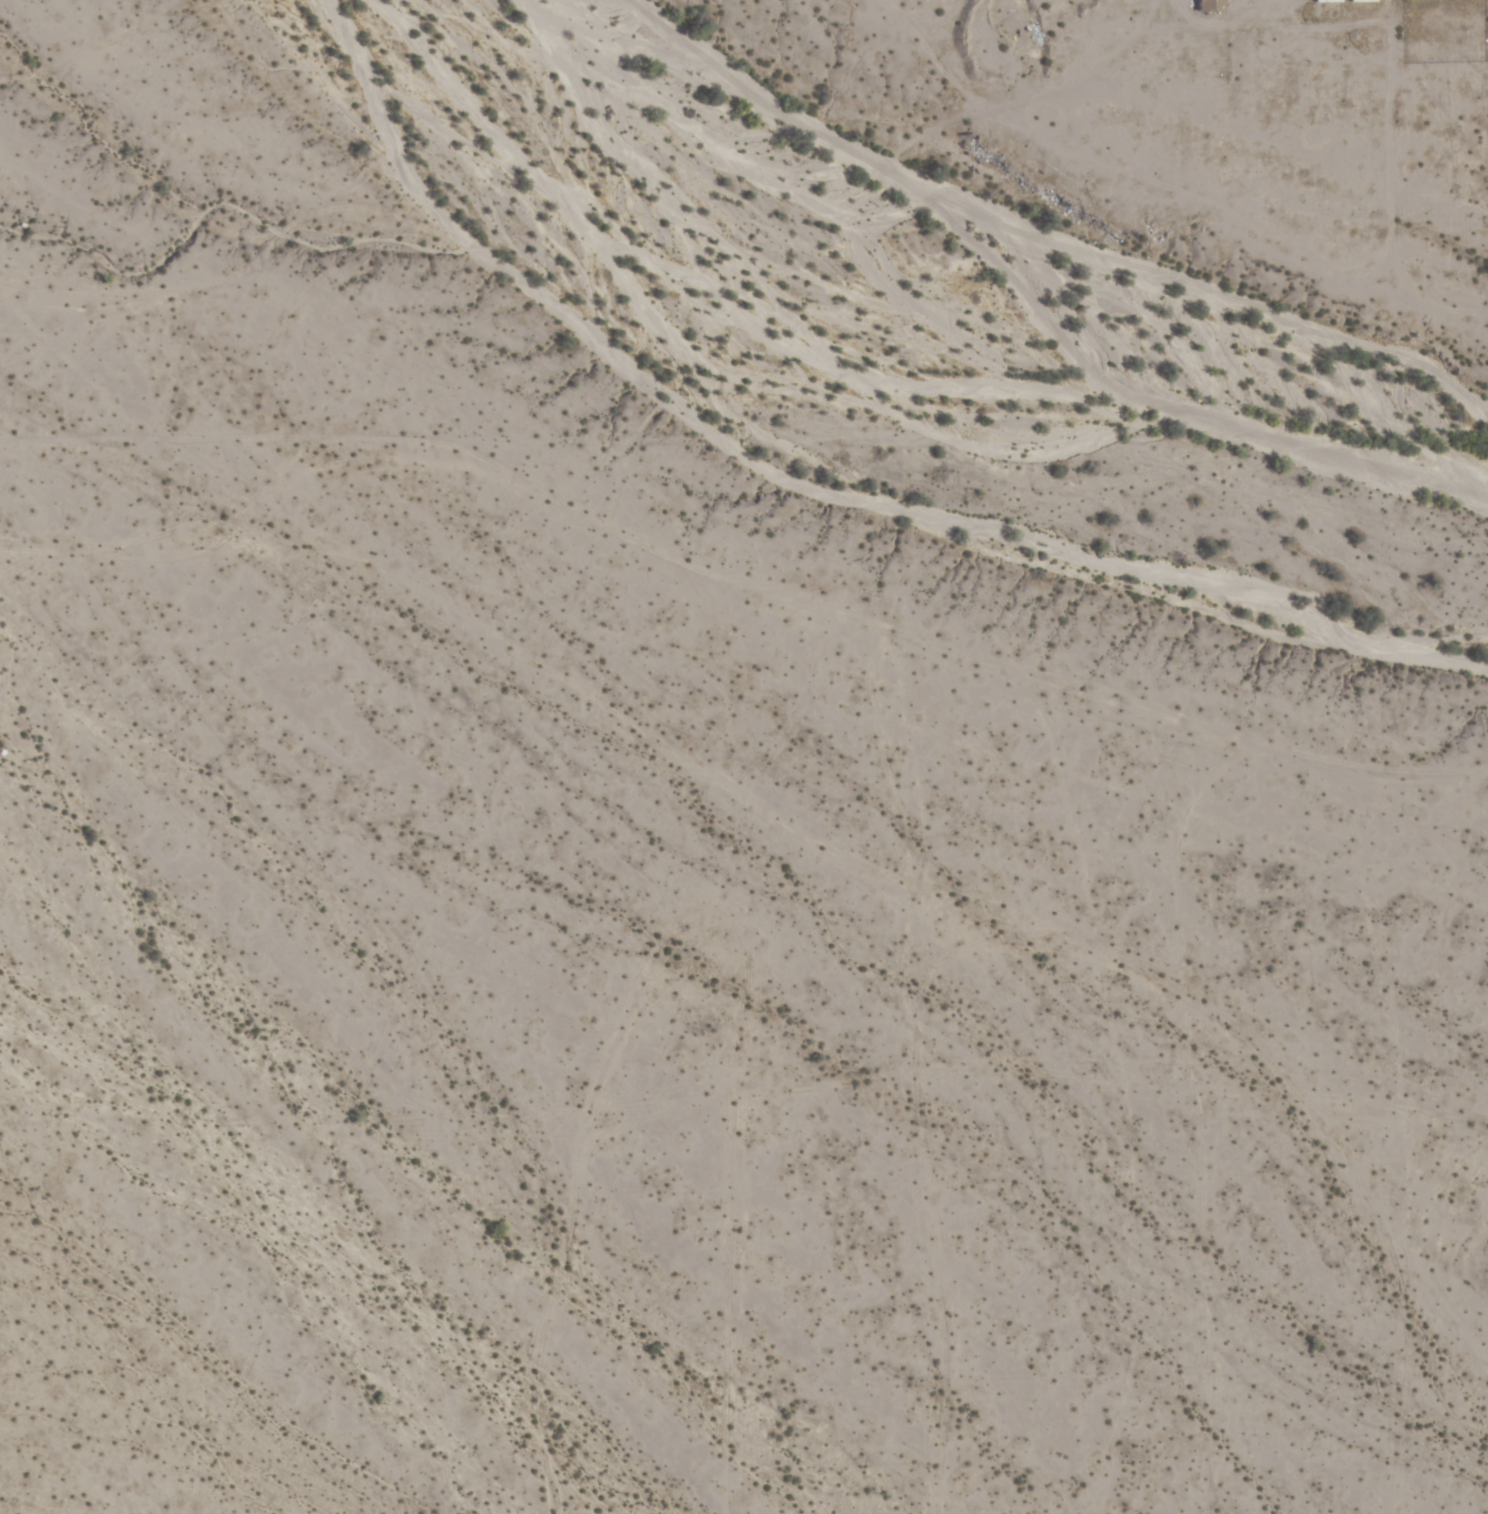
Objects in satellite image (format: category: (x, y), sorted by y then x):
building: (1324, 0)
building: (1360, 0)
building: (1207, 6)

